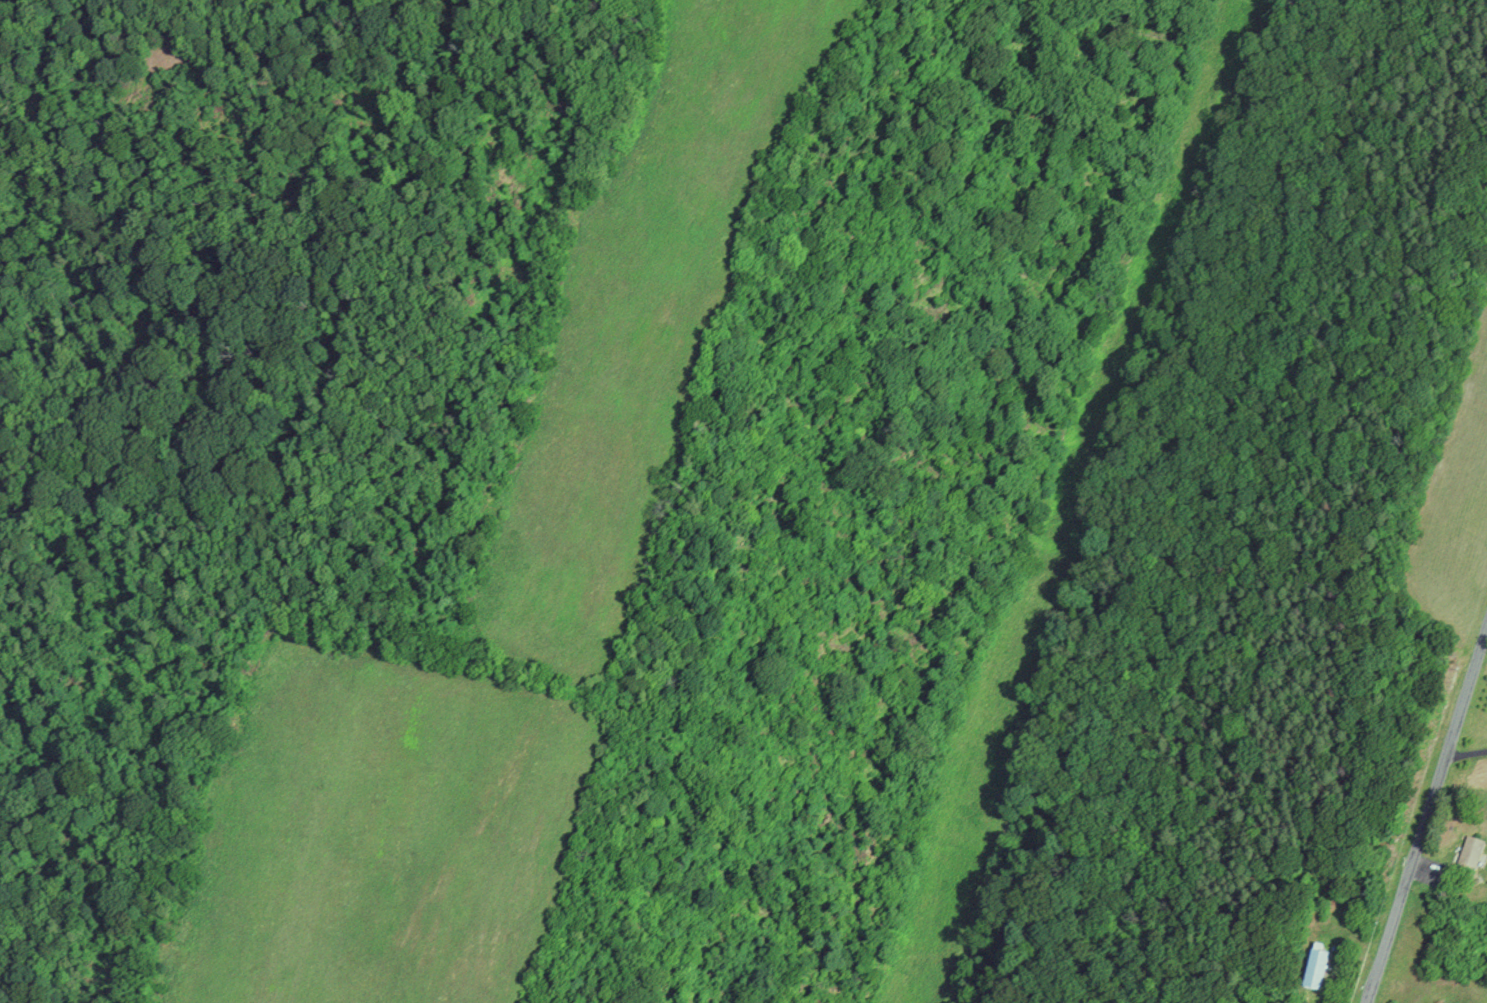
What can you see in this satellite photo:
road: (1093, 493)
road: (1427, 813)
building: (1472, 853)
building: (1316, 969)

